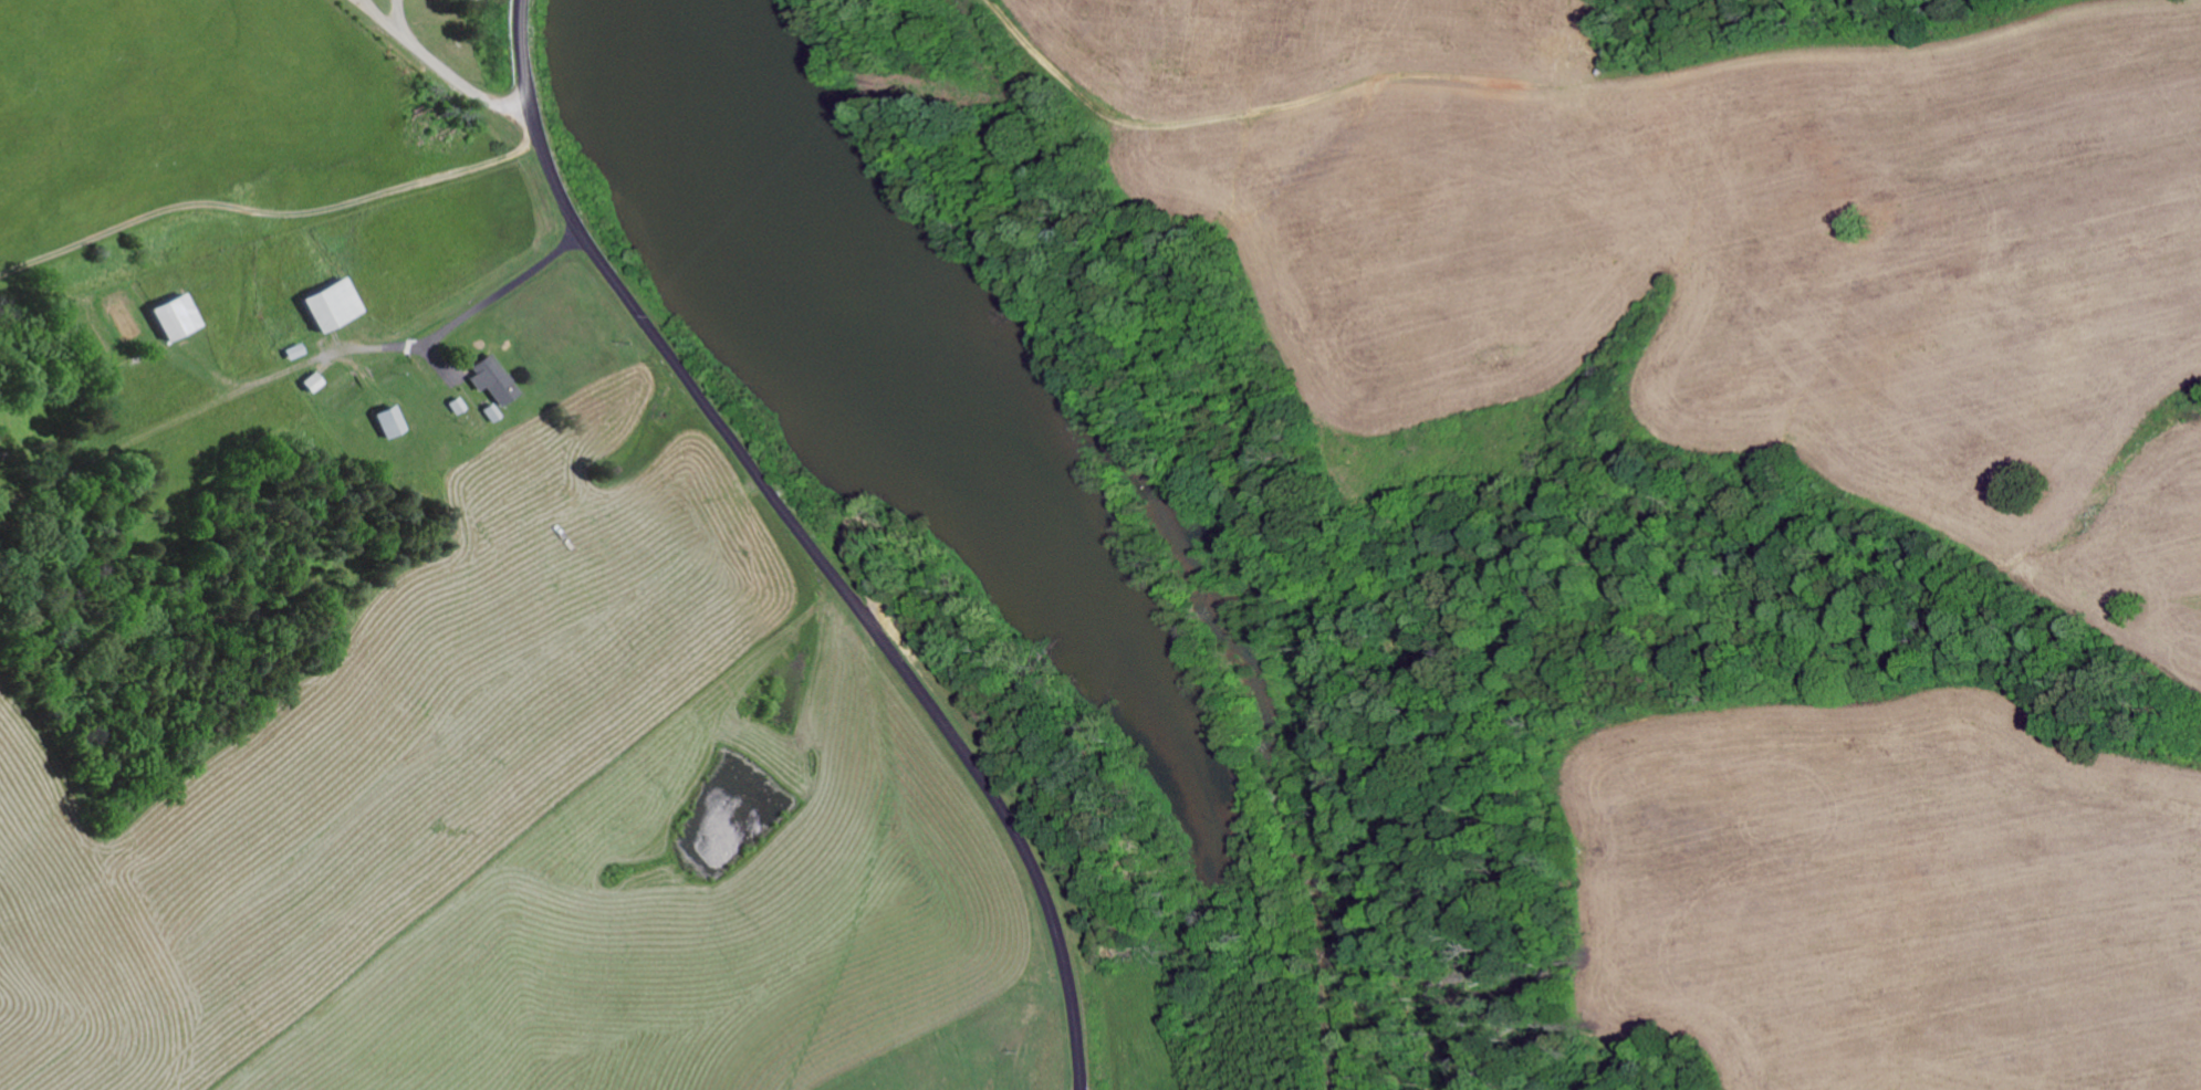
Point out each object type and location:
road: (423, 69)
road: (1106, 220)
road: (1701, 263)
building: (328, 307)
building: (171, 319)
building: (290, 355)
building: (489, 384)
building: (309, 385)
road: (295, 392)
building: (453, 409)
building: (388, 425)
road: (810, 541)

